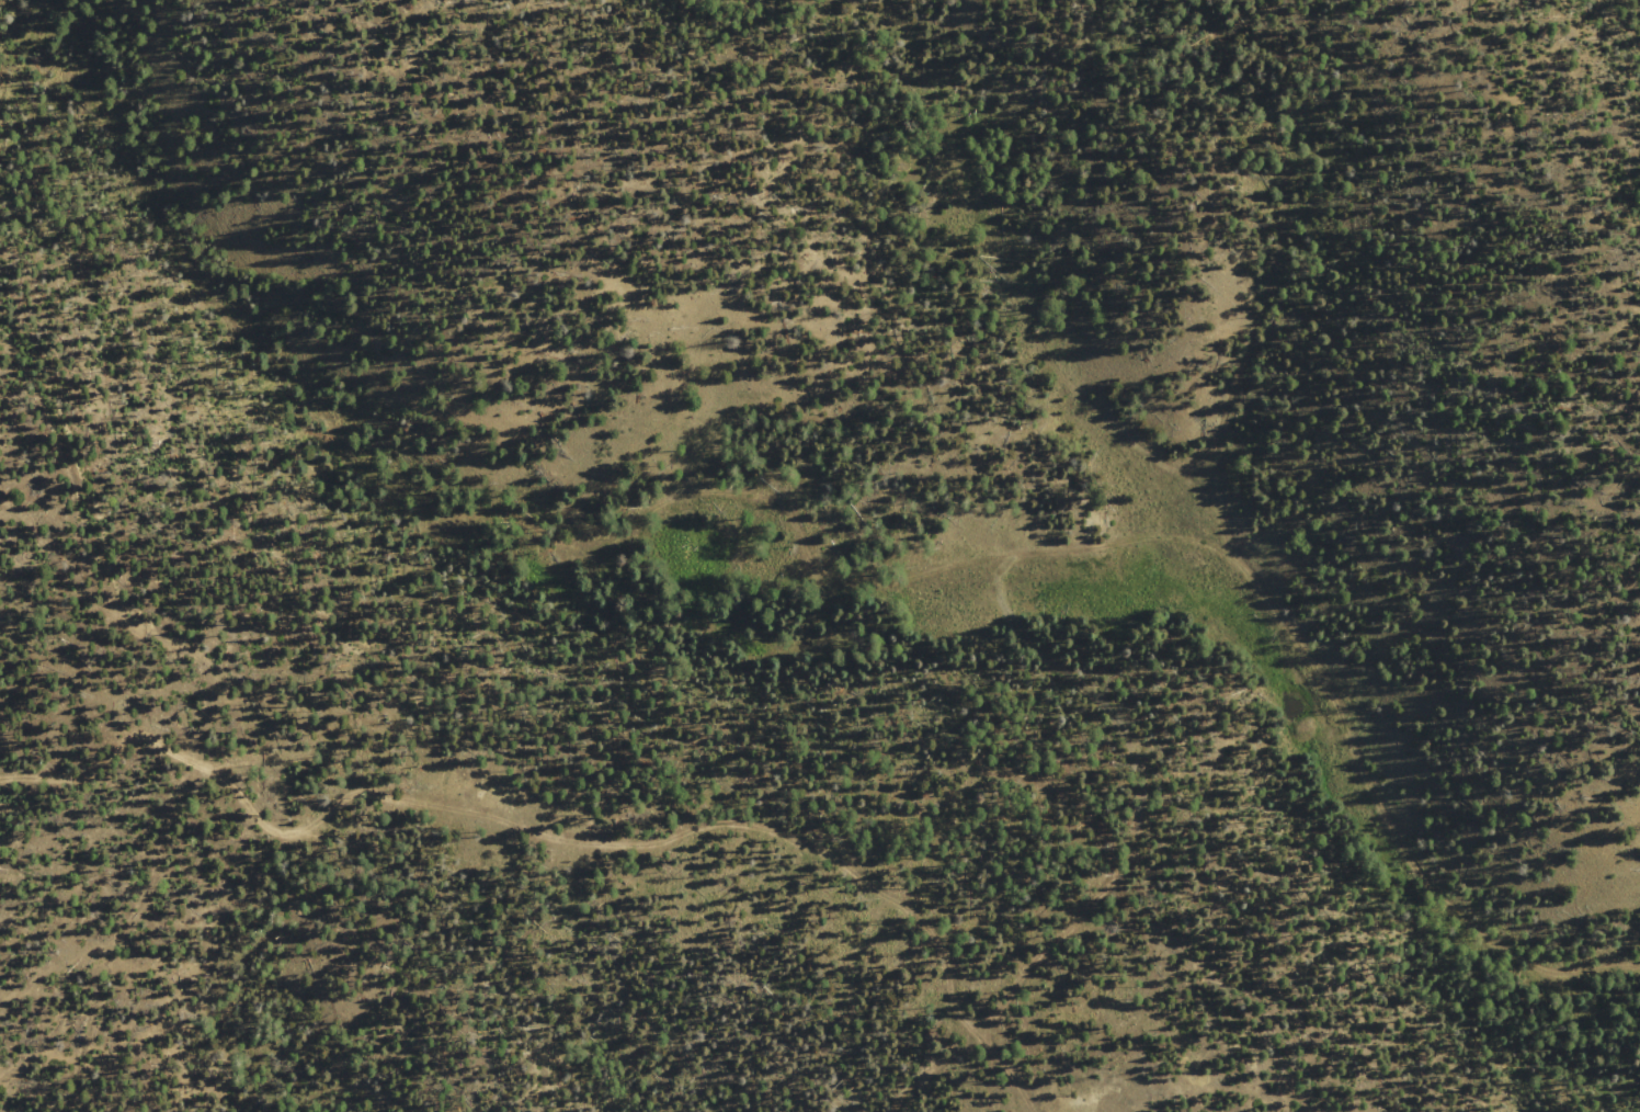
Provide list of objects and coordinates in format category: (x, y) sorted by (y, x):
road: (485, 837)

